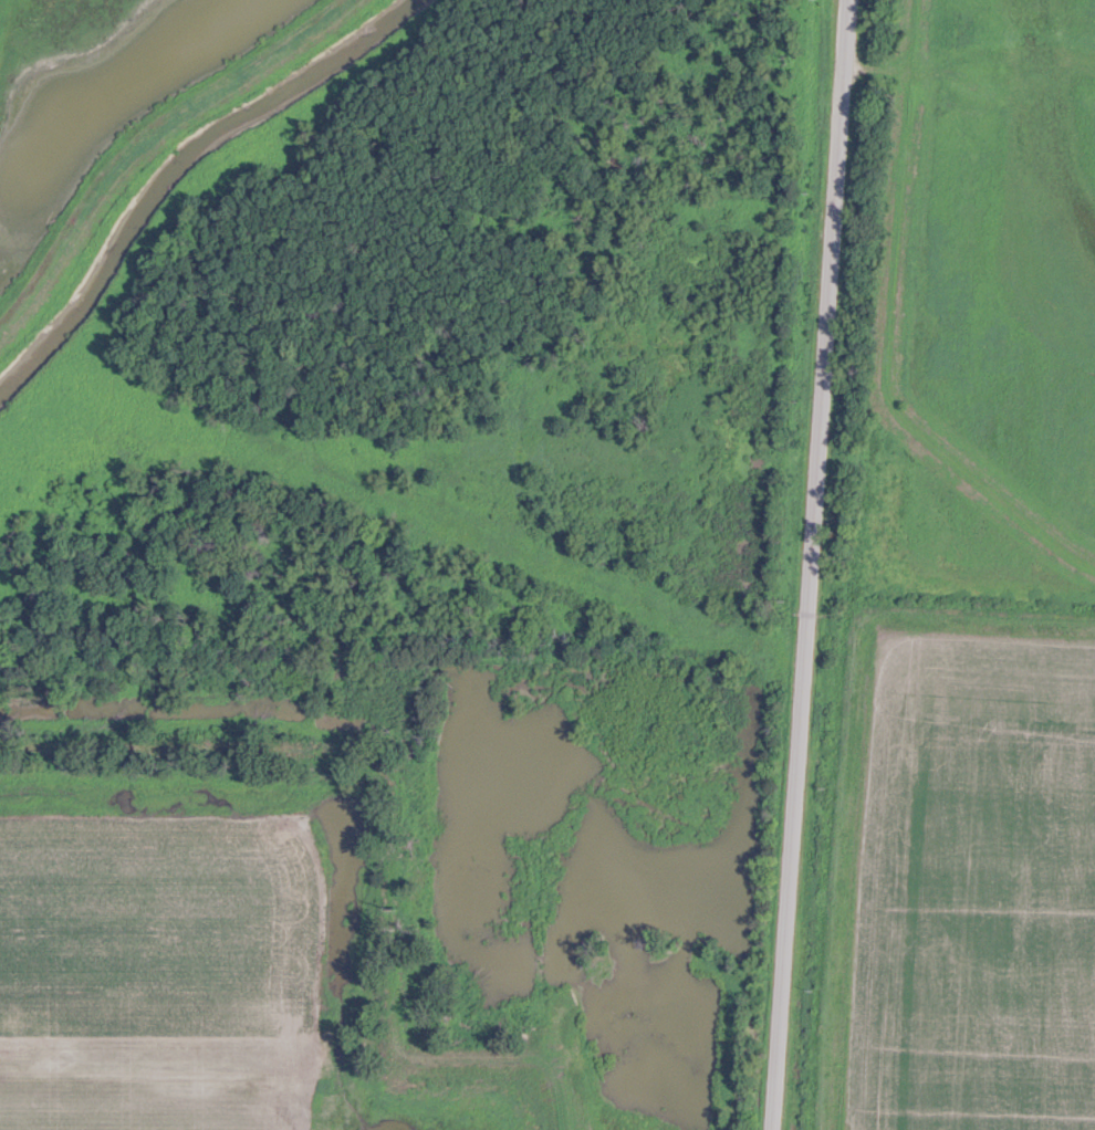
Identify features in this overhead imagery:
road: (804, 565)

